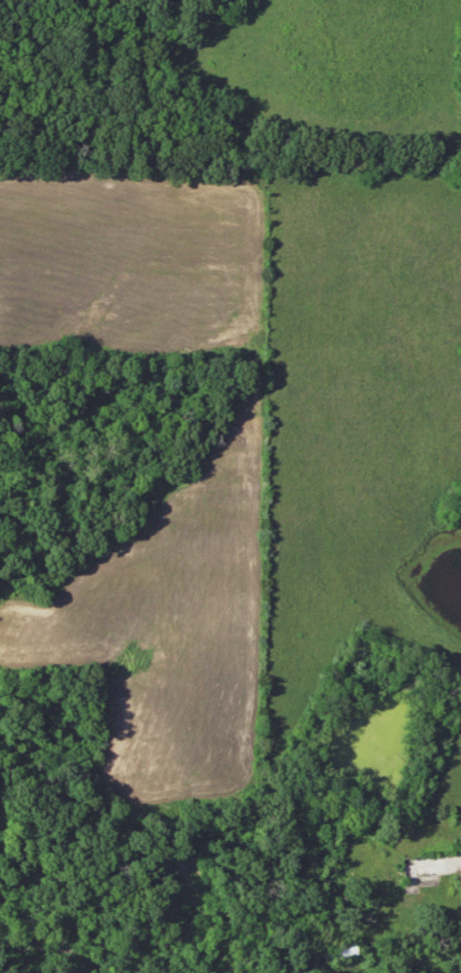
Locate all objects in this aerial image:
building: (428, 867)
road: (459, 886)
building: (337, 951)

